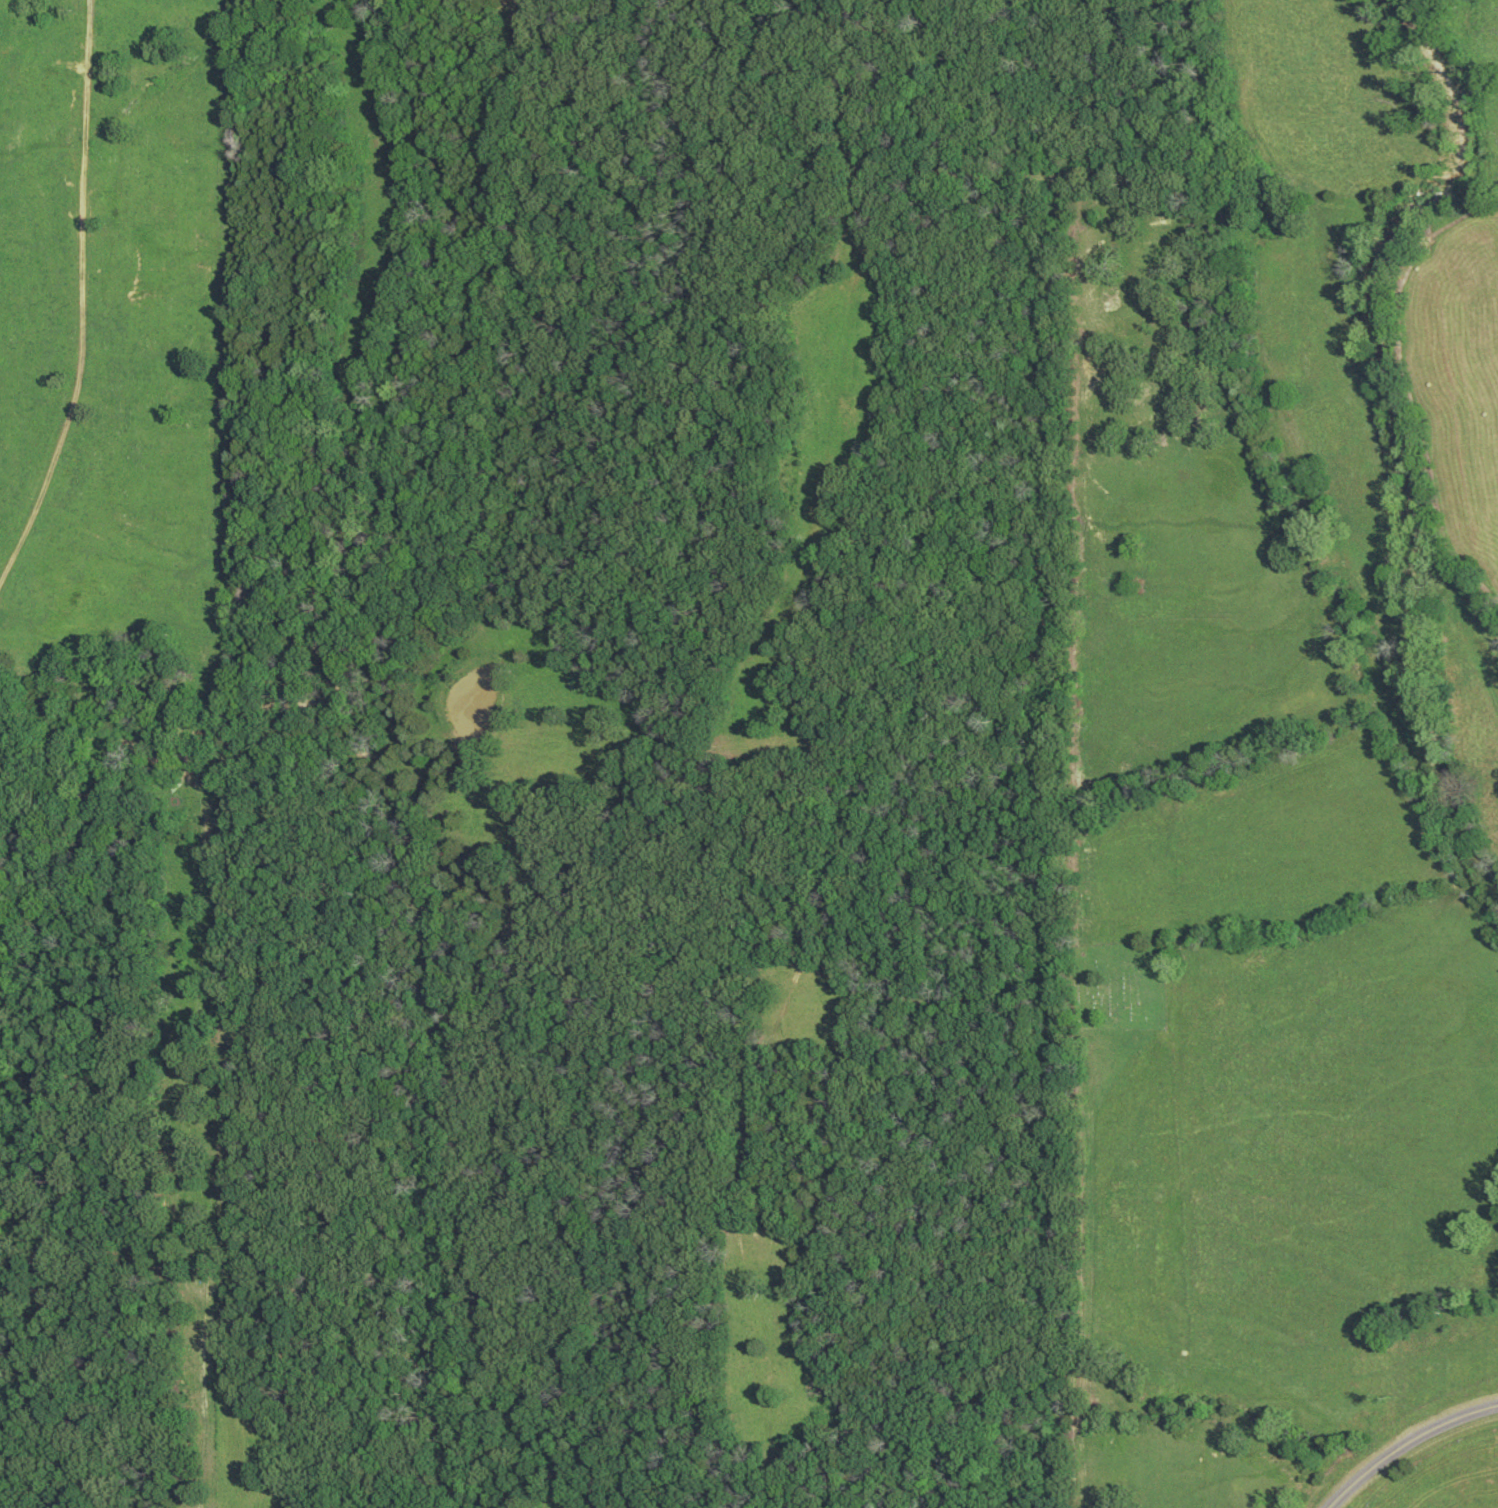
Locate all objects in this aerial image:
road: (85, 301)
road: (209, 754)
road: (1409, 1446)

